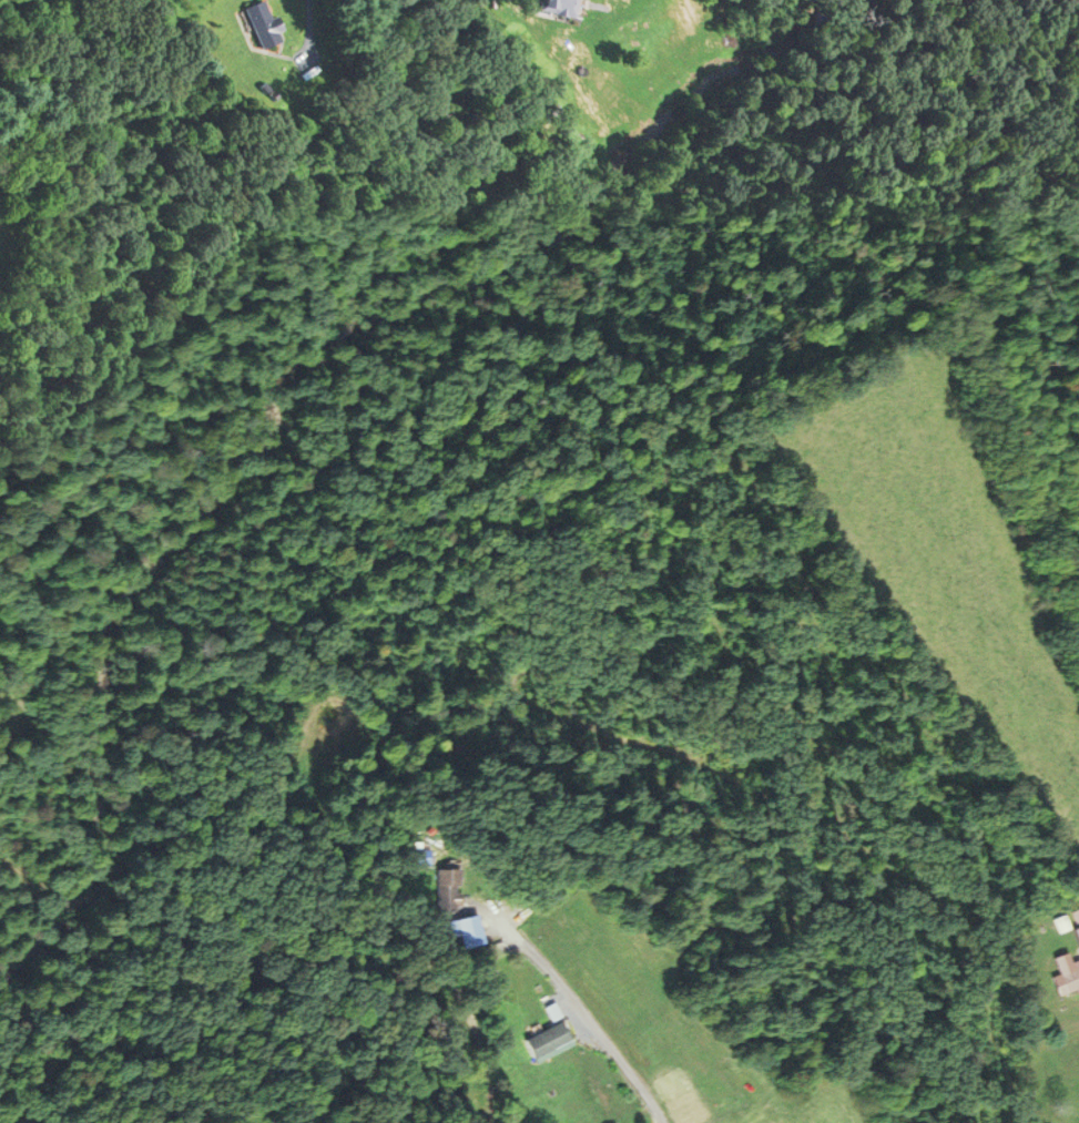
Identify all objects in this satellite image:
building: (561, 6)
building: (267, 12)
river: (167, 558)
building: (446, 887)
building: (1070, 977)
building: (546, 1039)

